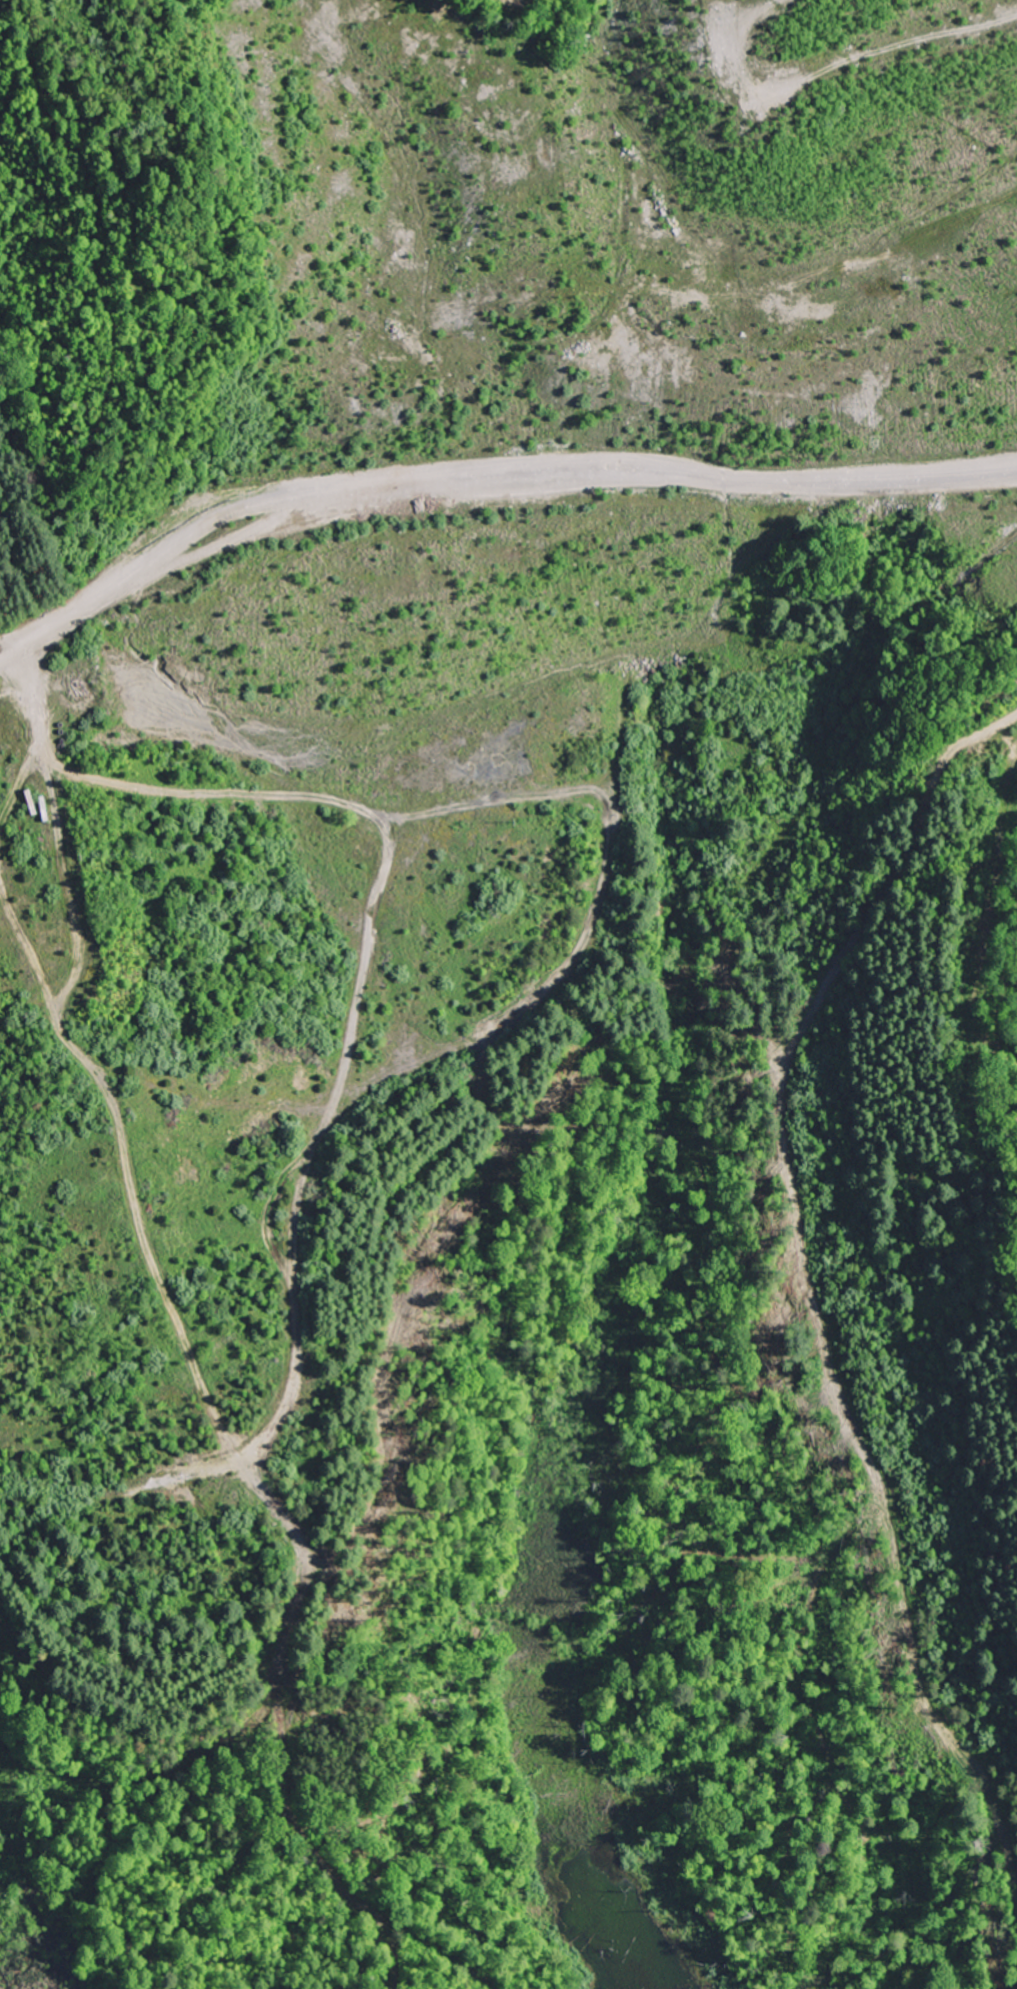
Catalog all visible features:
road: (647, 480)
road: (393, 868)
road: (69, 988)
road: (325, 1141)
road: (308, 1833)

